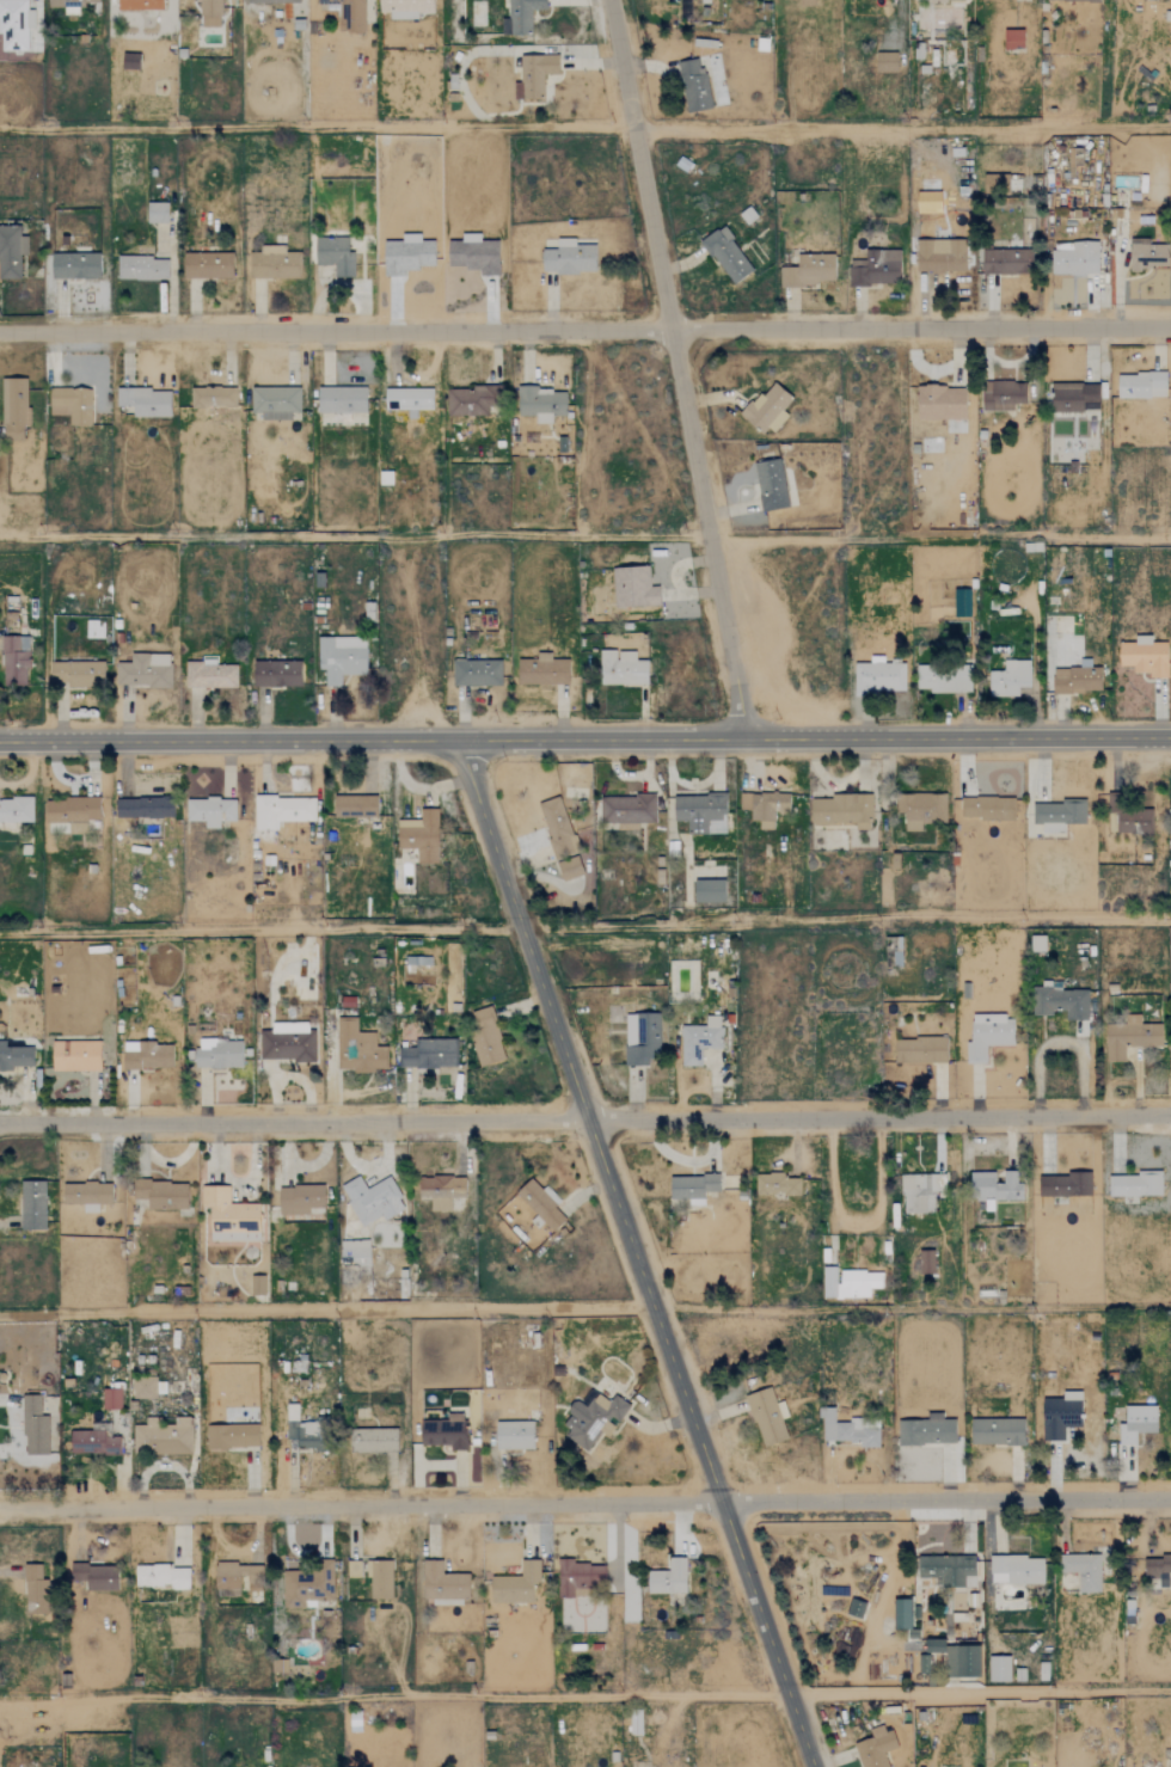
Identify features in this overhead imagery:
building: (946, 0)
building: (1075, 0)
building: (274, 1)
building: (704, 1)
building: (805, 2)
building: (68, 4)
building: (139, 5)
building: (404, 7)
building: (209, 13)
building: (348, 14)
building: (522, 14)
building: (14, 24)
building: (1013, 39)
building: (129, 61)
building: (887, 62)
building: (533, 75)
building: (693, 85)
road: (902, 129)
building: (995, 183)
building: (157, 213)
building: (11, 252)
building: (407, 254)
building: (473, 254)
building: (1147, 254)
building: (335, 256)
building: (726, 256)
building: (940, 256)
building: (569, 258)
building: (1074, 259)
building: (1006, 262)
building: (272, 263)
building: (207, 265)
building: (74, 266)
building: (141, 268)
building: (875, 269)
building: (809, 270)
road: (584, 330)
road: (679, 366)
building: (1141, 385)
building: (1001, 395)
building: (211, 397)
building: (1072, 397)
building: (409, 399)
building: (341, 400)
building: (471, 400)
building: (145, 401)
building: (275, 401)
building: (940, 403)
building: (541, 404)
building: (70, 405)
building: (13, 409)
building: (768, 409)
building: (384, 478)
building: (770, 485)
road: (939, 536)
building: (633, 587)
building: (961, 603)
building: (1145, 657)
building: (341, 658)
building: (14, 661)
building: (621, 669)
building: (143, 670)
building: (542, 671)
building: (476, 673)
building: (75, 674)
building: (276, 674)
building: (209, 675)
building: (877, 677)
building: (943, 677)
building: (1008, 679)
building: (1077, 680)
road: (584, 738)
building: (354, 806)
building: (765, 806)
building: (143, 808)
building: (987, 809)
building: (842, 810)
building: (921, 810)
building: (16, 811)
building: (209, 811)
building: (281, 811)
building: (698, 811)
building: (72, 812)
building: (626, 812)
building: (1057, 815)
building: (1133, 823)
building: (556, 827)
building: (419, 836)
building: (569, 869)
building: (709, 891)
road: (846, 916)
road: (260, 927)
building: (1037, 944)
building: (988, 1035)
building: (485, 1037)
building: (1130, 1037)
building: (640, 1038)
building: (699, 1041)
building: (287, 1042)
building: (357, 1048)
building: (919, 1050)
building: (428, 1054)
building: (147, 1055)
building: (217, 1055)
building: (74, 1056)
building: (16, 1057)
road: (585, 1121)
road: (686, 1162)
building: (777, 1184)
building: (1134, 1184)
building: (994, 1185)
building: (1065, 1185)
building: (693, 1188)
building: (440, 1190)
building: (920, 1191)
building: (160, 1194)
building: (87, 1195)
building: (299, 1200)
building: (372, 1200)
building: (539, 1203)
building: (32, 1205)
building: (229, 1215)
road: (858, 1217)
building: (354, 1254)
road: (636, 1254)
building: (926, 1262)
building: (829, 1282)
building: (858, 1283)
building: (257, 1286)
road: (326, 1308)
building: (110, 1399)
building: (1061, 1416)
building: (593, 1419)
building: (1136, 1423)
building: (33, 1427)
building: (301, 1429)
building: (847, 1429)
building: (926, 1431)
building: (997, 1431)
building: (445, 1432)
building: (514, 1435)
building: (163, 1436)
building: (232, 1436)
building: (372, 1440)
building: (92, 1442)
road: (585, 1505)
building: (1157, 1565)
building: (352, 1569)
building: (1016, 1570)
building: (952, 1571)
building: (1083, 1571)
building: (160, 1576)
building: (94, 1577)
building: (578, 1577)
building: (667, 1578)
building: (237, 1579)
building: (380, 1579)
building: (443, 1584)
building: (516, 1584)
building: (305, 1587)
building: (35, 1590)
building: (856, 1608)
building: (934, 1645)
building: (963, 1661)
building: (999, 1668)
road: (979, 1693)
road: (393, 1697)
building: (634, 1723)
building: (875, 1748)

